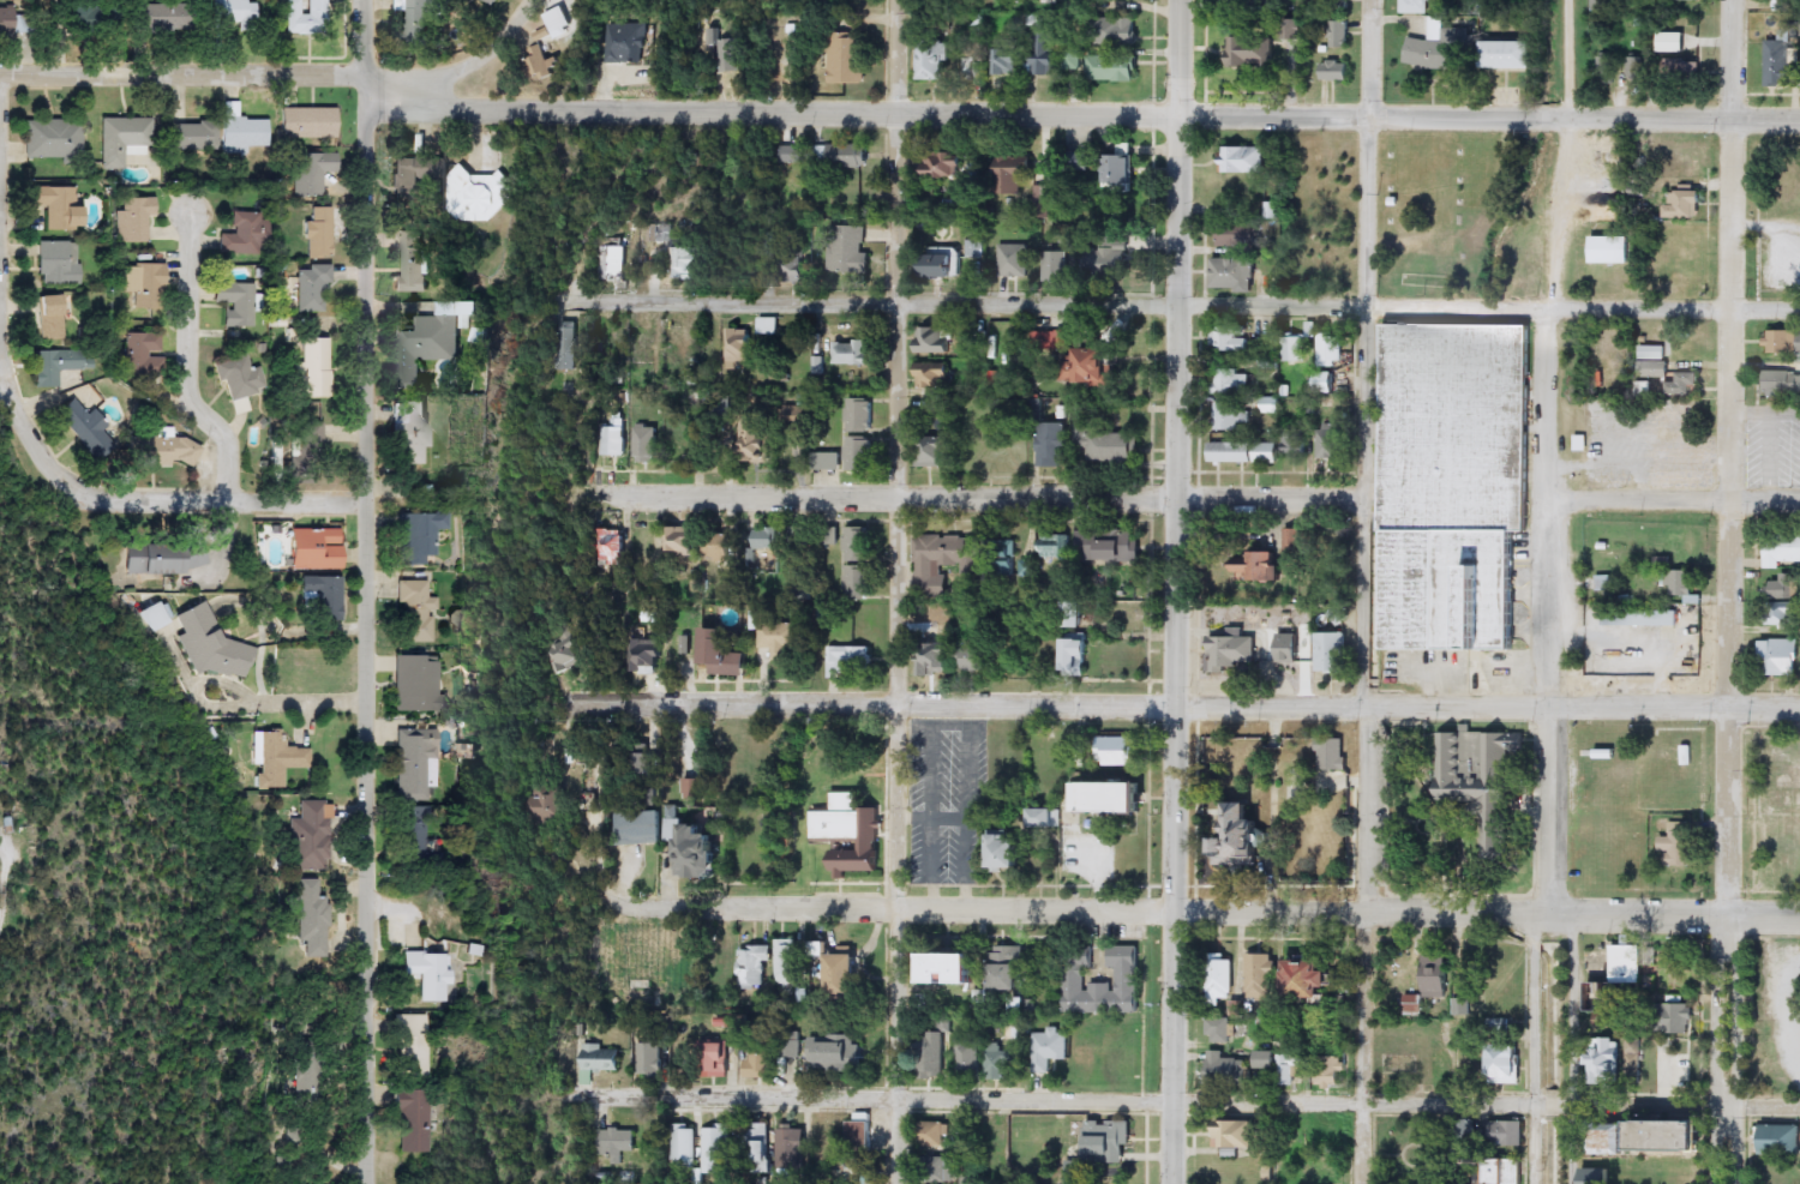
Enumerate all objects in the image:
building: (1680, 0)
building: (1051, 1)
building: (494, 2)
building: (1247, 2)
building: (1600, 5)
building: (1782, 5)
building: (1417, 6)
building: (233, 12)
building: (164, 18)
building: (306, 18)
building: (90, 19)
building: (416, 20)
building: (10, 22)
building: (1116, 31)
building: (1338, 34)
building: (710, 41)
building: (1672, 42)
building: (624, 43)
building: (1435, 48)
building: (1250, 53)
road: (472, 54)
building: (1044, 55)
building: (1510, 55)
building: (732, 56)
building: (1004, 59)
building: (847, 60)
building: (932, 61)
building: (1103, 66)
building: (546, 67)
building: (1604, 68)
building: (1634, 70)
building: (1778, 70)
building: (970, 71)
building: (1678, 71)
road: (896, 114)
building: (310, 124)
building: (244, 134)
building: (194, 137)
building: (52, 139)
building: (122, 140)
building: (794, 156)
building: (850, 157)
building: (1243, 161)
building: (1685, 163)
building: (943, 167)
building: (1081, 168)
building: (1120, 168)
building: (311, 174)
building: (1013, 176)
building: (413, 180)
building: (484, 197)
building: (1042, 202)
building: (1682, 204)
building: (59, 206)
building: (133, 220)
road: (1766, 227)
building: (319, 233)
building: (652, 233)
road: (6, 234)
building: (245, 235)
building: (1240, 235)
building: (384, 240)
building: (768, 240)
building: (848, 247)
building: (974, 248)
building: (1609, 250)
building: (415, 256)
building: (691, 259)
building: (612, 260)
building: (1012, 260)
building: (1105, 260)
building: (58, 264)
building: (943, 265)
building: (1055, 266)
building: (794, 268)
building: (1680, 268)
building: (1234, 272)
building: (145, 286)
building: (312, 289)
building: (235, 303)
road: (1196, 303)
building: (53, 319)
building: (768, 325)
building: (488, 333)
building: (1225, 338)
building: (936, 339)
building: (1782, 342)
building: (566, 345)
building: (738, 347)
building: (425, 348)
building: (647, 349)
building: (1294, 350)
building: (852, 351)
building: (1652, 351)
road: (194, 354)
building: (142, 355)
building: (1328, 360)
building: (59, 366)
building: (1099, 366)
building: (316, 367)
building: (1654, 369)
building: (239, 375)
building: (935, 375)
building: (1230, 381)
building: (1782, 381)
building: (1682, 384)
building: (860, 414)
building: (797, 415)
building: (1230, 415)
building: (86, 429)
building: (413, 433)
building: (756, 437)
building: (613, 438)
building: (1295, 441)
building: (647, 443)
building: (1331, 443)
building: (1051, 444)
building: (1106, 444)
building: (311, 447)
building: (166, 449)
building: (934, 452)
building: (1243, 452)
building: (859, 453)
road: (1544, 456)
building: (826, 461)
building: (1457, 482)
road: (998, 498)
road: (158, 501)
road: (1673, 503)
building: (419, 536)
road: (228, 537)
building: (800, 537)
building: (766, 539)
building: (680, 540)
building: (1294, 541)
building: (859, 545)
building: (719, 546)
building: (1114, 547)
building: (317, 548)
building: (610, 548)
building: (1051, 548)
building: (1782, 548)
building: (167, 558)
building: (1003, 558)
building: (942, 561)
building: (1254, 565)
building: (1025, 567)
building: (857, 578)
building: (1680, 582)
building: (1783, 587)
road: (370, 591)
road: (895, 591)
road: (1177, 591)
road: (1367, 591)
railway: (1562, 591)
road: (1728, 591)
building: (322, 597)
building: (415, 609)
building: (1781, 612)
building: (1074, 614)
building: (156, 617)
building: (1650, 618)
building: (780, 637)
building: (210, 644)
building: (725, 651)
building: (1230, 653)
building: (1331, 653)
building: (566, 654)
building: (1076, 654)
building: (647, 656)
building: (1292, 656)
building: (1777, 657)
building: (952, 660)
building: (850, 661)
building: (418, 684)
road: (296, 699)
road: (1190, 705)
building: (1118, 751)
building: (1332, 755)
building: (277, 759)
building: (414, 764)
building: (1480, 782)
building: (694, 788)
building: (1117, 798)
building: (546, 804)
building: (1044, 818)
building: (638, 827)
building: (850, 831)
building: (1240, 834)
building: (308, 836)
building: (415, 837)
building: (1678, 846)
building: (703, 851)
building: (1006, 851)
building: (1068, 853)
road: (1106, 910)
road: (1675, 915)
building: (312, 916)
building: (821, 950)
building: (1626, 964)
building: (950, 968)
building: (1008, 968)
building: (431, 974)
building: (1436, 974)
building: (1128, 975)
building: (1260, 978)
building: (1219, 979)
building: (1312, 979)
building: (846, 980)
building: (1676, 1018)
building: (1217, 1030)
building: (413, 1046)
road: (1532, 1046)
road: (1572, 1046)
building: (788, 1047)
building: (930, 1051)
building: (1048, 1051)
building: (835, 1053)
building: (715, 1056)
building: (967, 1057)
building: (650, 1059)
building: (601, 1060)
building: (760, 1060)
building: (1278, 1064)
building: (1507, 1064)
building: (1001, 1065)
building: (1604, 1066)
building: (1225, 1068)
building: (307, 1076)
road: (1194, 1100)
building: (415, 1122)
building: (858, 1134)
building: (935, 1134)
building: (1507, 1134)
building: (1235, 1136)
building: (299, 1137)
building: (827, 1138)
building: (1651, 1138)
building: (1778, 1140)
building: (1108, 1142)
building: (617, 1143)
building: (756, 1144)
building: (683, 1147)
building: (792, 1148)
building: (716, 1149)
building: (1001, 1162)
building: (853, 1168)
building: (946, 1170)
building: (1328, 1171)
building: (1501, 1173)
building: (1596, 1177)

